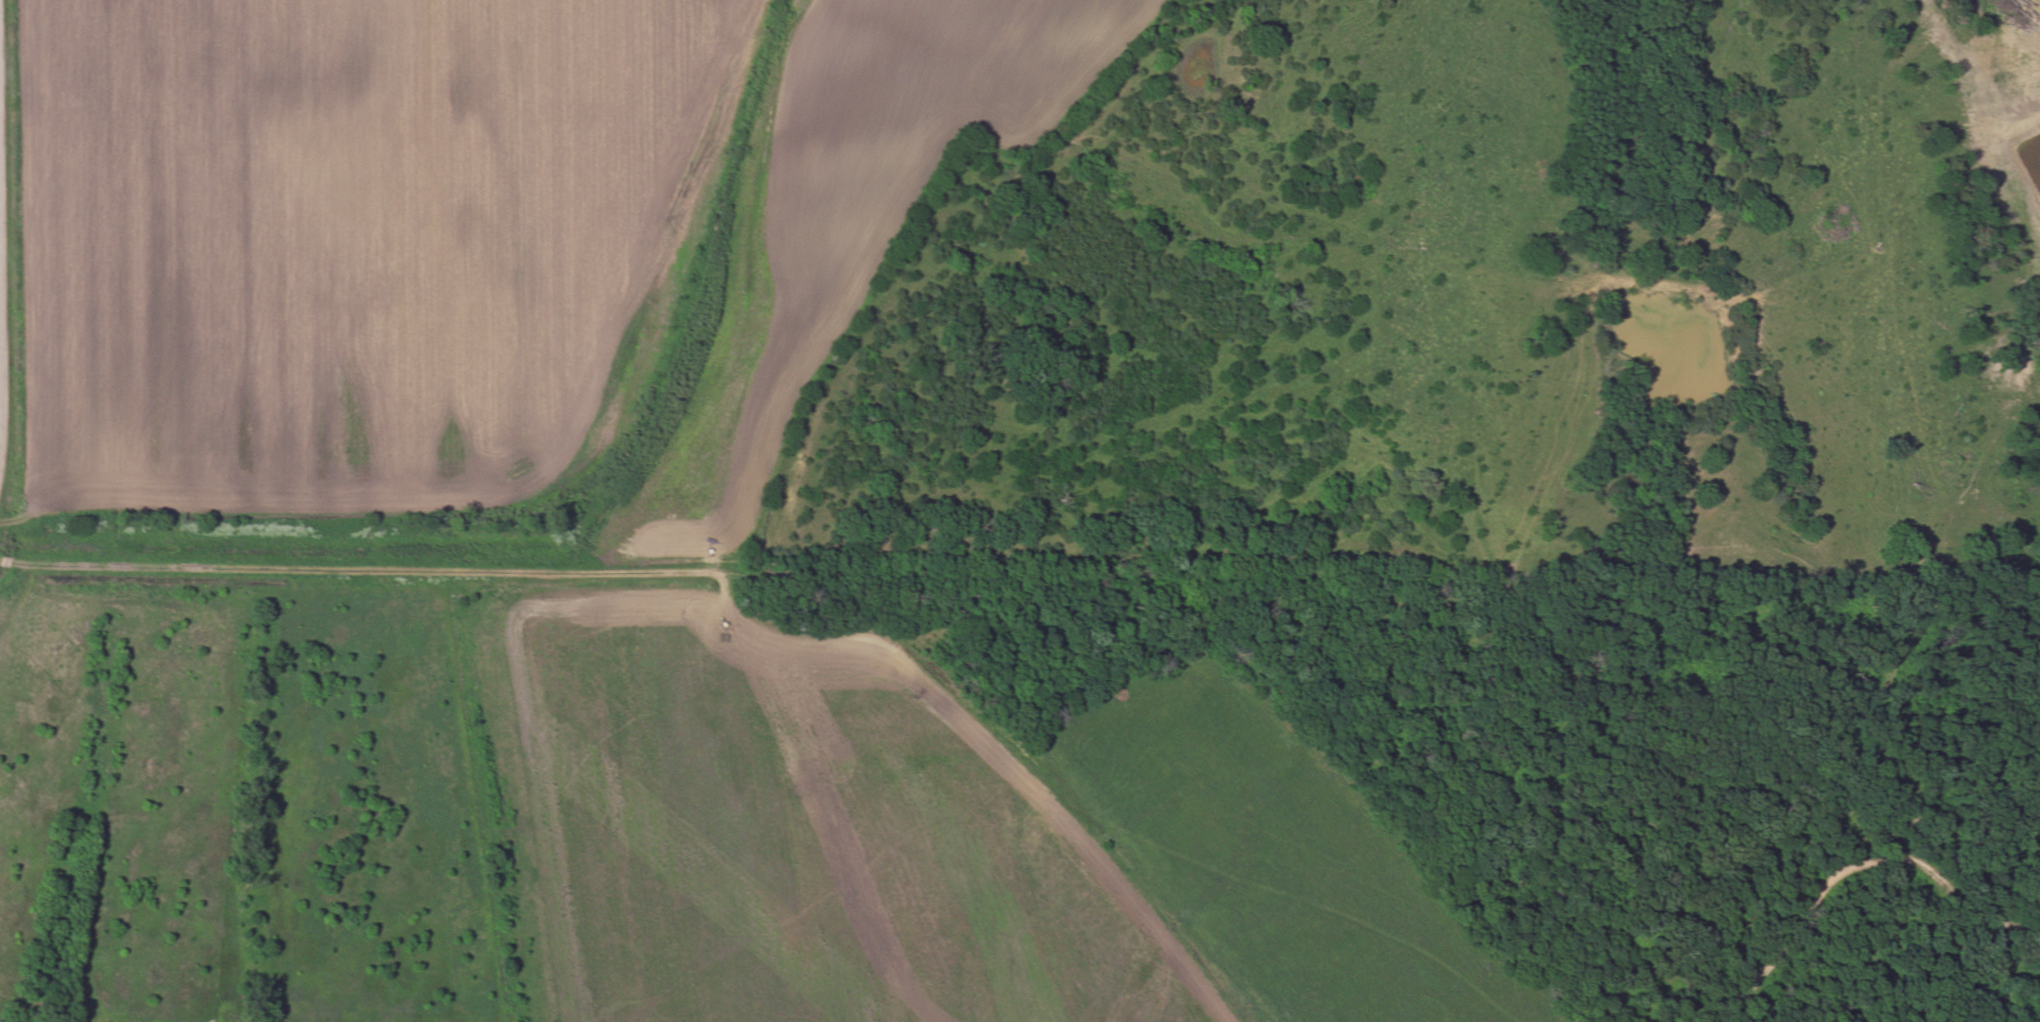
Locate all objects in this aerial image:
road: (1028, 824)

